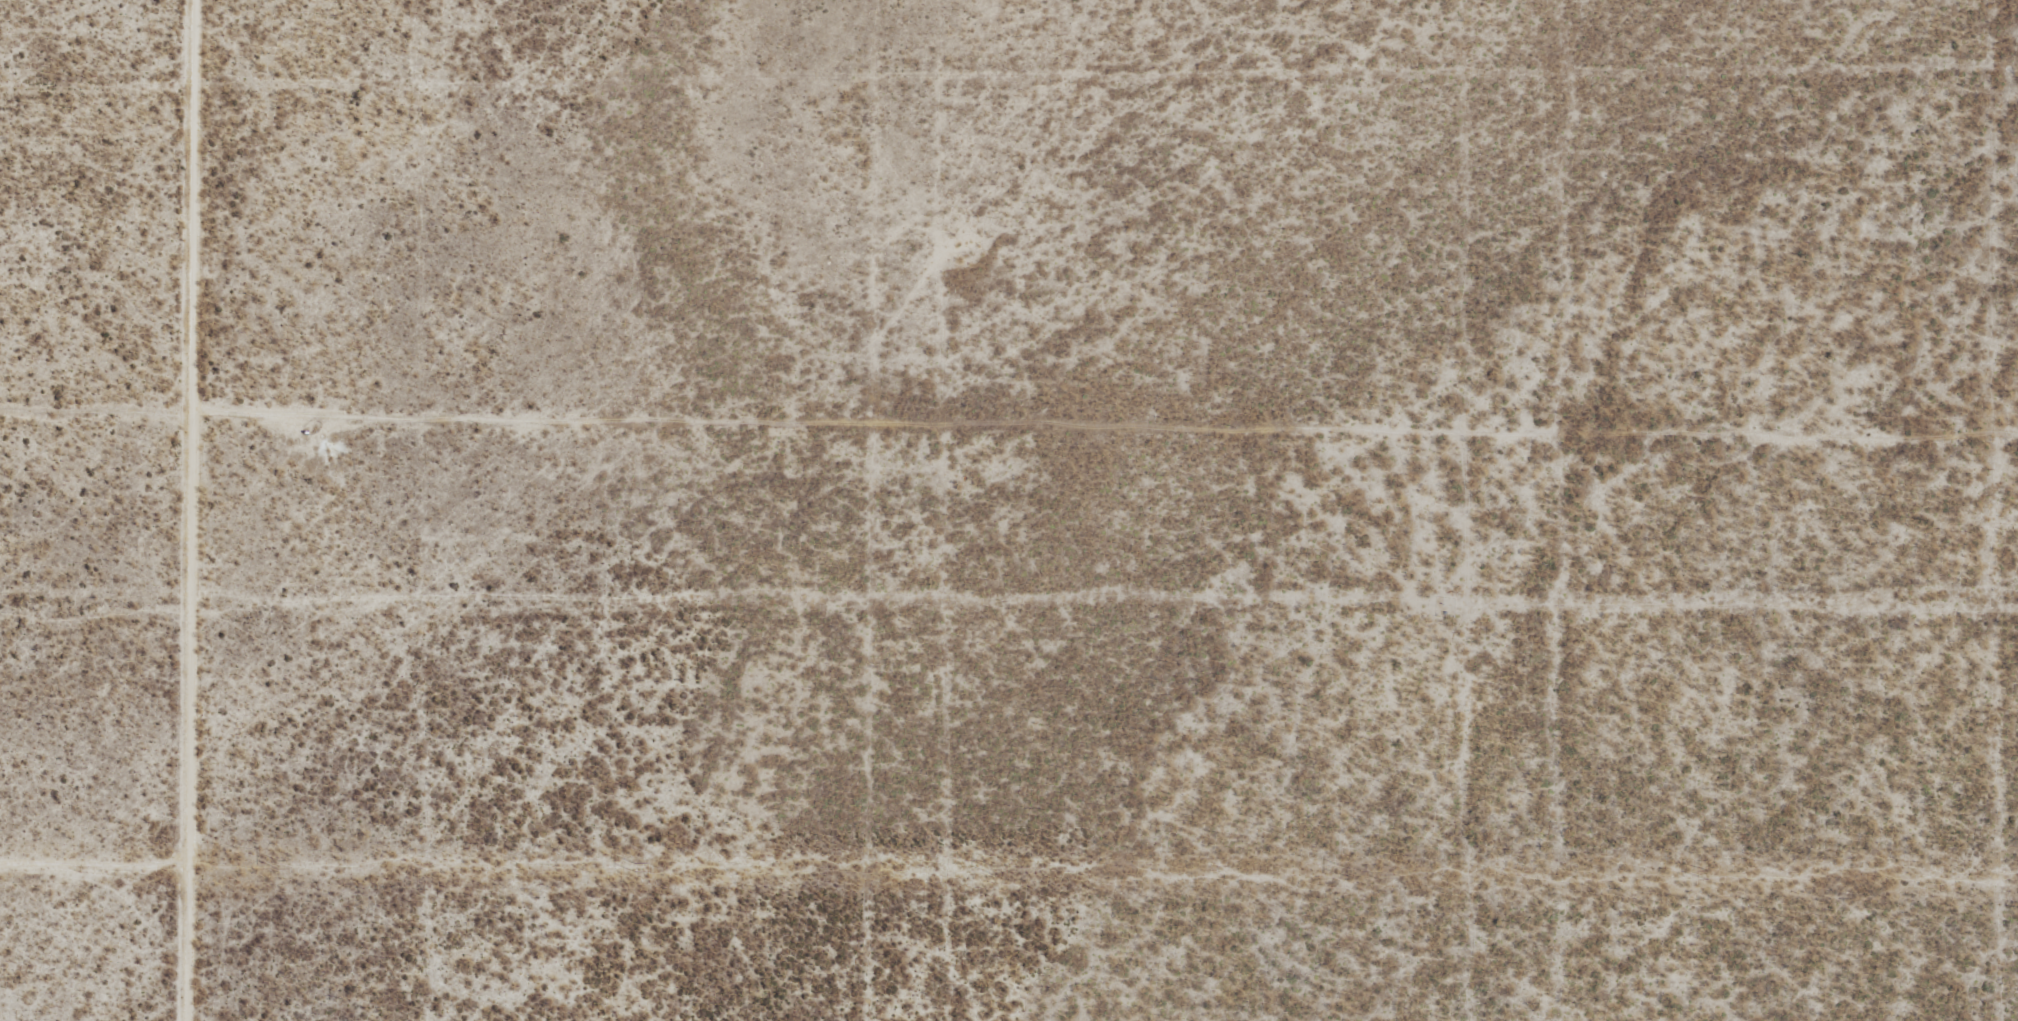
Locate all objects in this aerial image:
road: (203, 510)
power tower: (277, 864)
power tower: (634, 866)
power tower: (992, 869)
power tower: (1349, 872)
power tower: (1708, 875)

